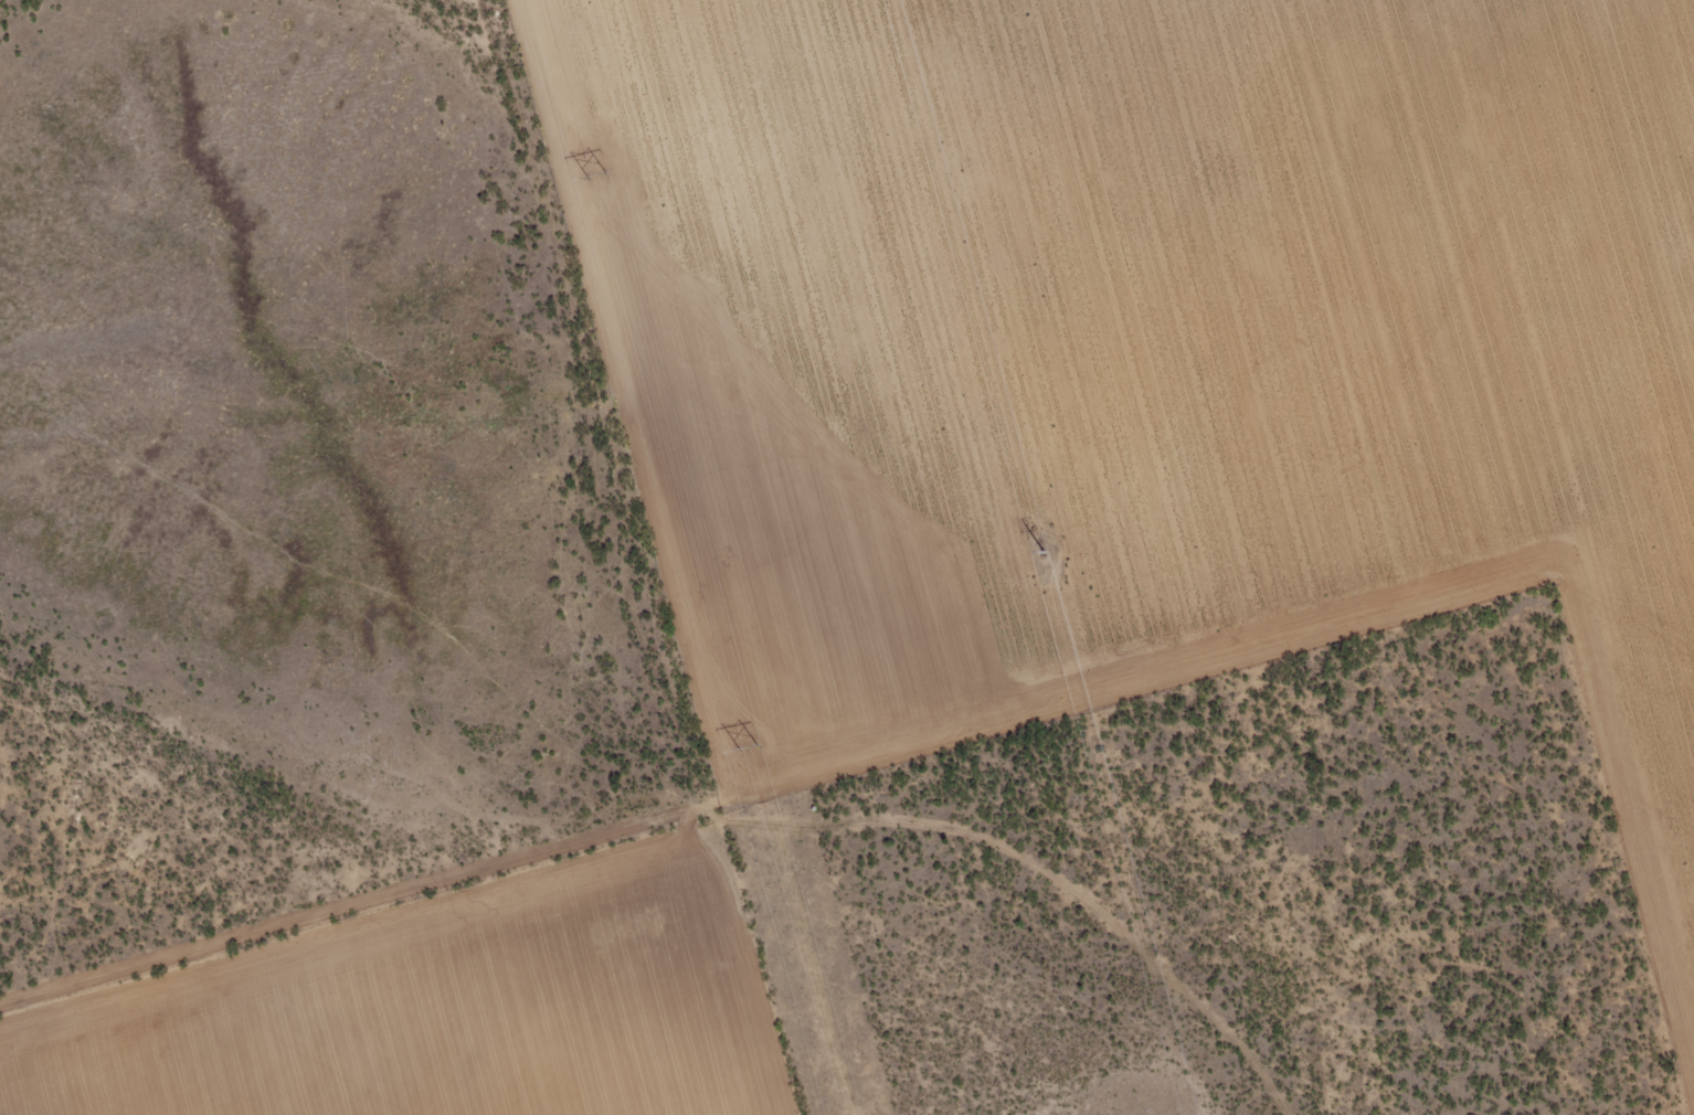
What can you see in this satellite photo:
power tower: (601, 174)
power tower: (1044, 550)
power tower: (754, 745)

